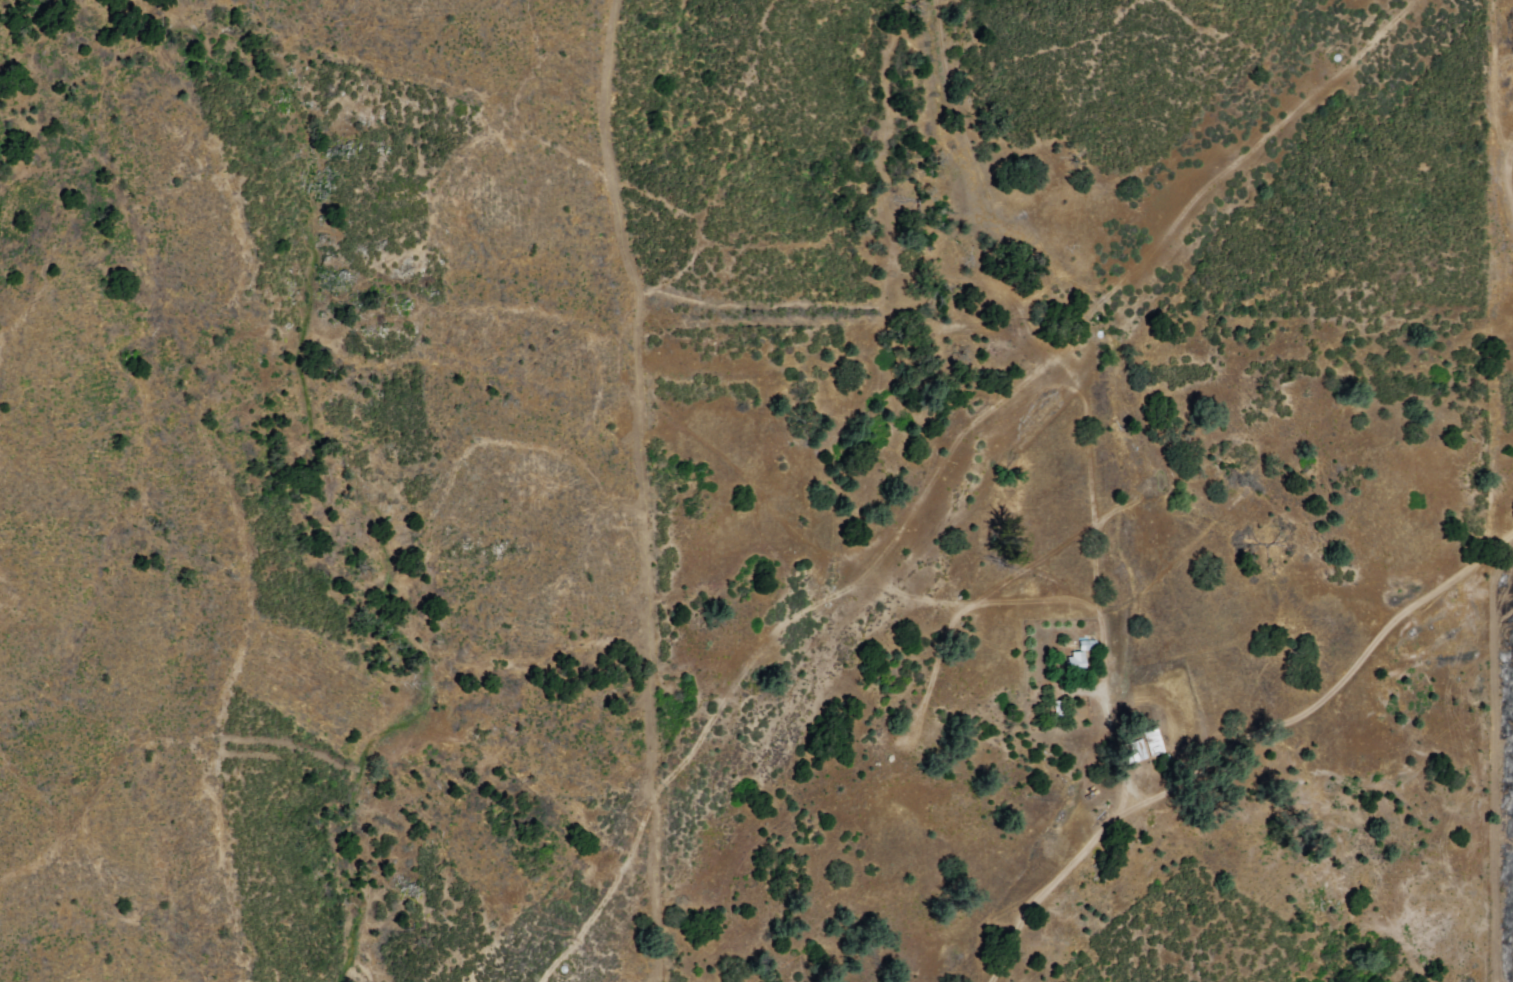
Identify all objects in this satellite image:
building: (1089, 644)
building: (1080, 660)
building: (1156, 741)
road: (1241, 747)
building: (1136, 750)

